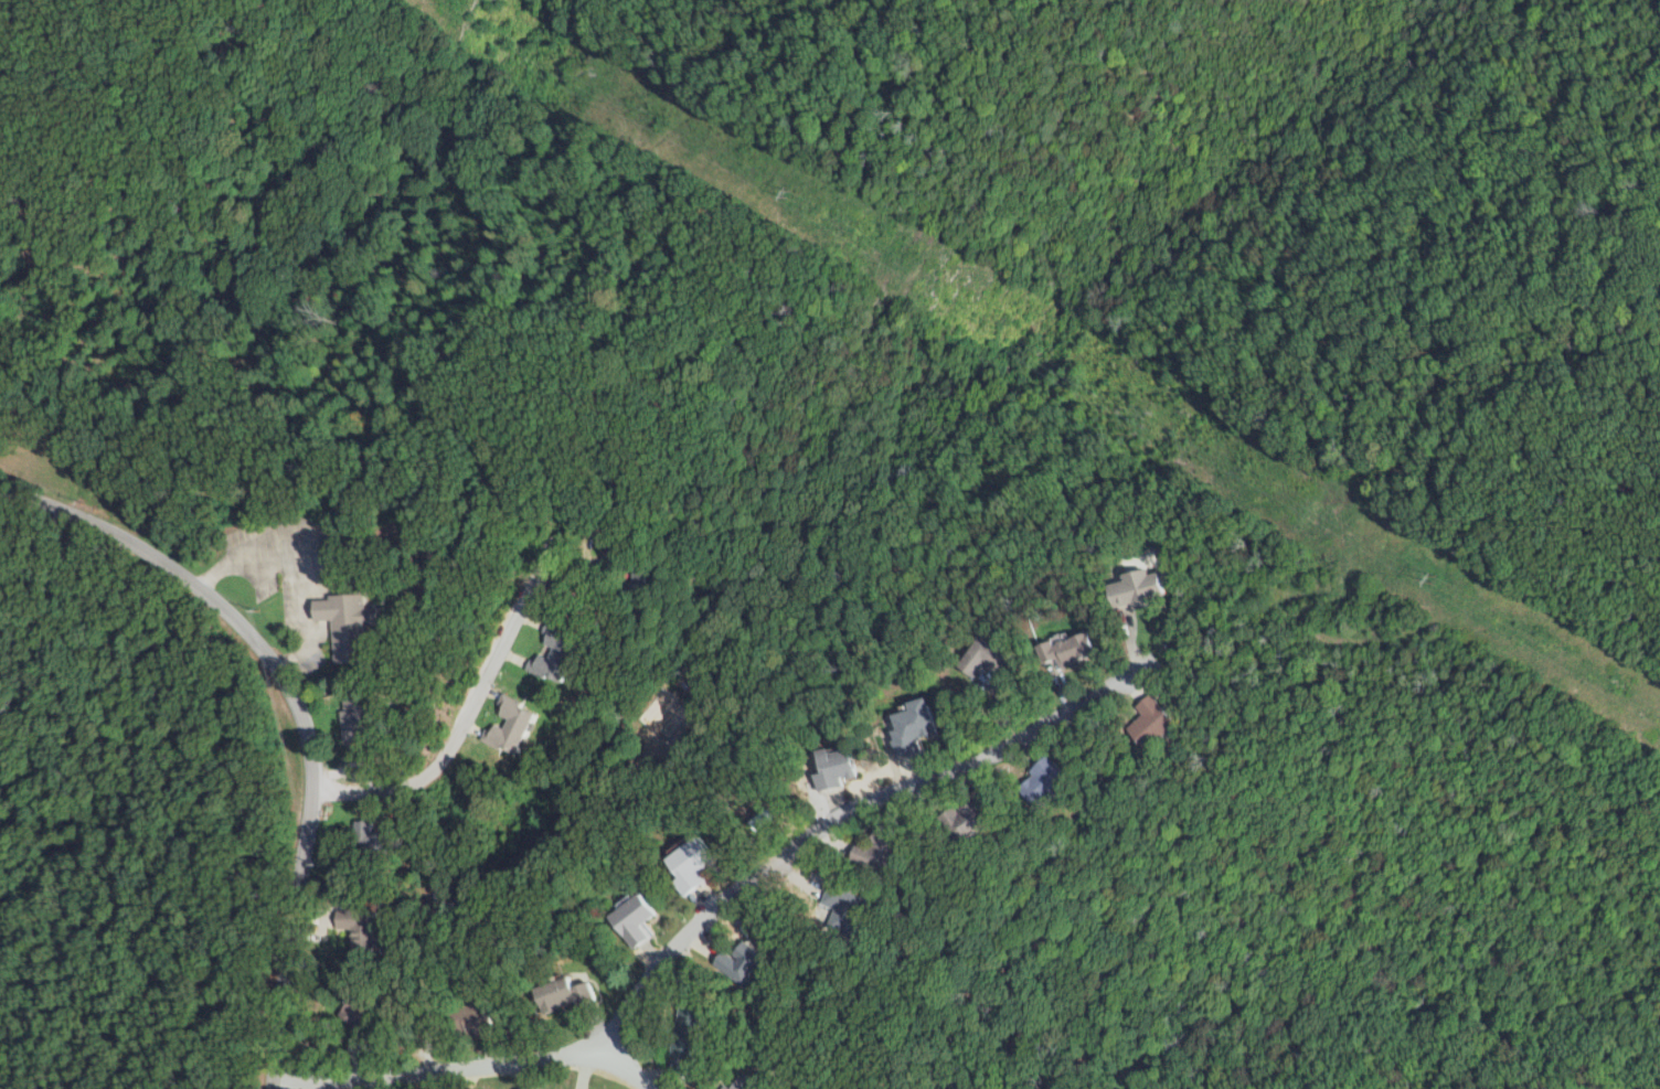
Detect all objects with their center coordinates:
power tower: (794, 193)
road: (305, 577)
power tower: (1437, 578)
building: (1139, 589)
building: (351, 623)
building: (1077, 650)
building: (560, 653)
building: (988, 656)
road: (299, 709)
road: (455, 714)
building: (360, 717)
building: (518, 724)
building: (1152, 724)
building: (919, 726)
building: (842, 768)
building: (1050, 780)
road: (844, 800)
building: (977, 819)
building: (394, 833)
building: (370, 835)
building: (887, 847)
building: (844, 905)
building: (640, 919)
building: (360, 927)
building: (753, 961)
building: (576, 993)
building: (369, 1014)
building: (695, 1033)
road: (447, 1063)
road: (640, 1068)
building: (746, 1085)
building: (534, 1088)

